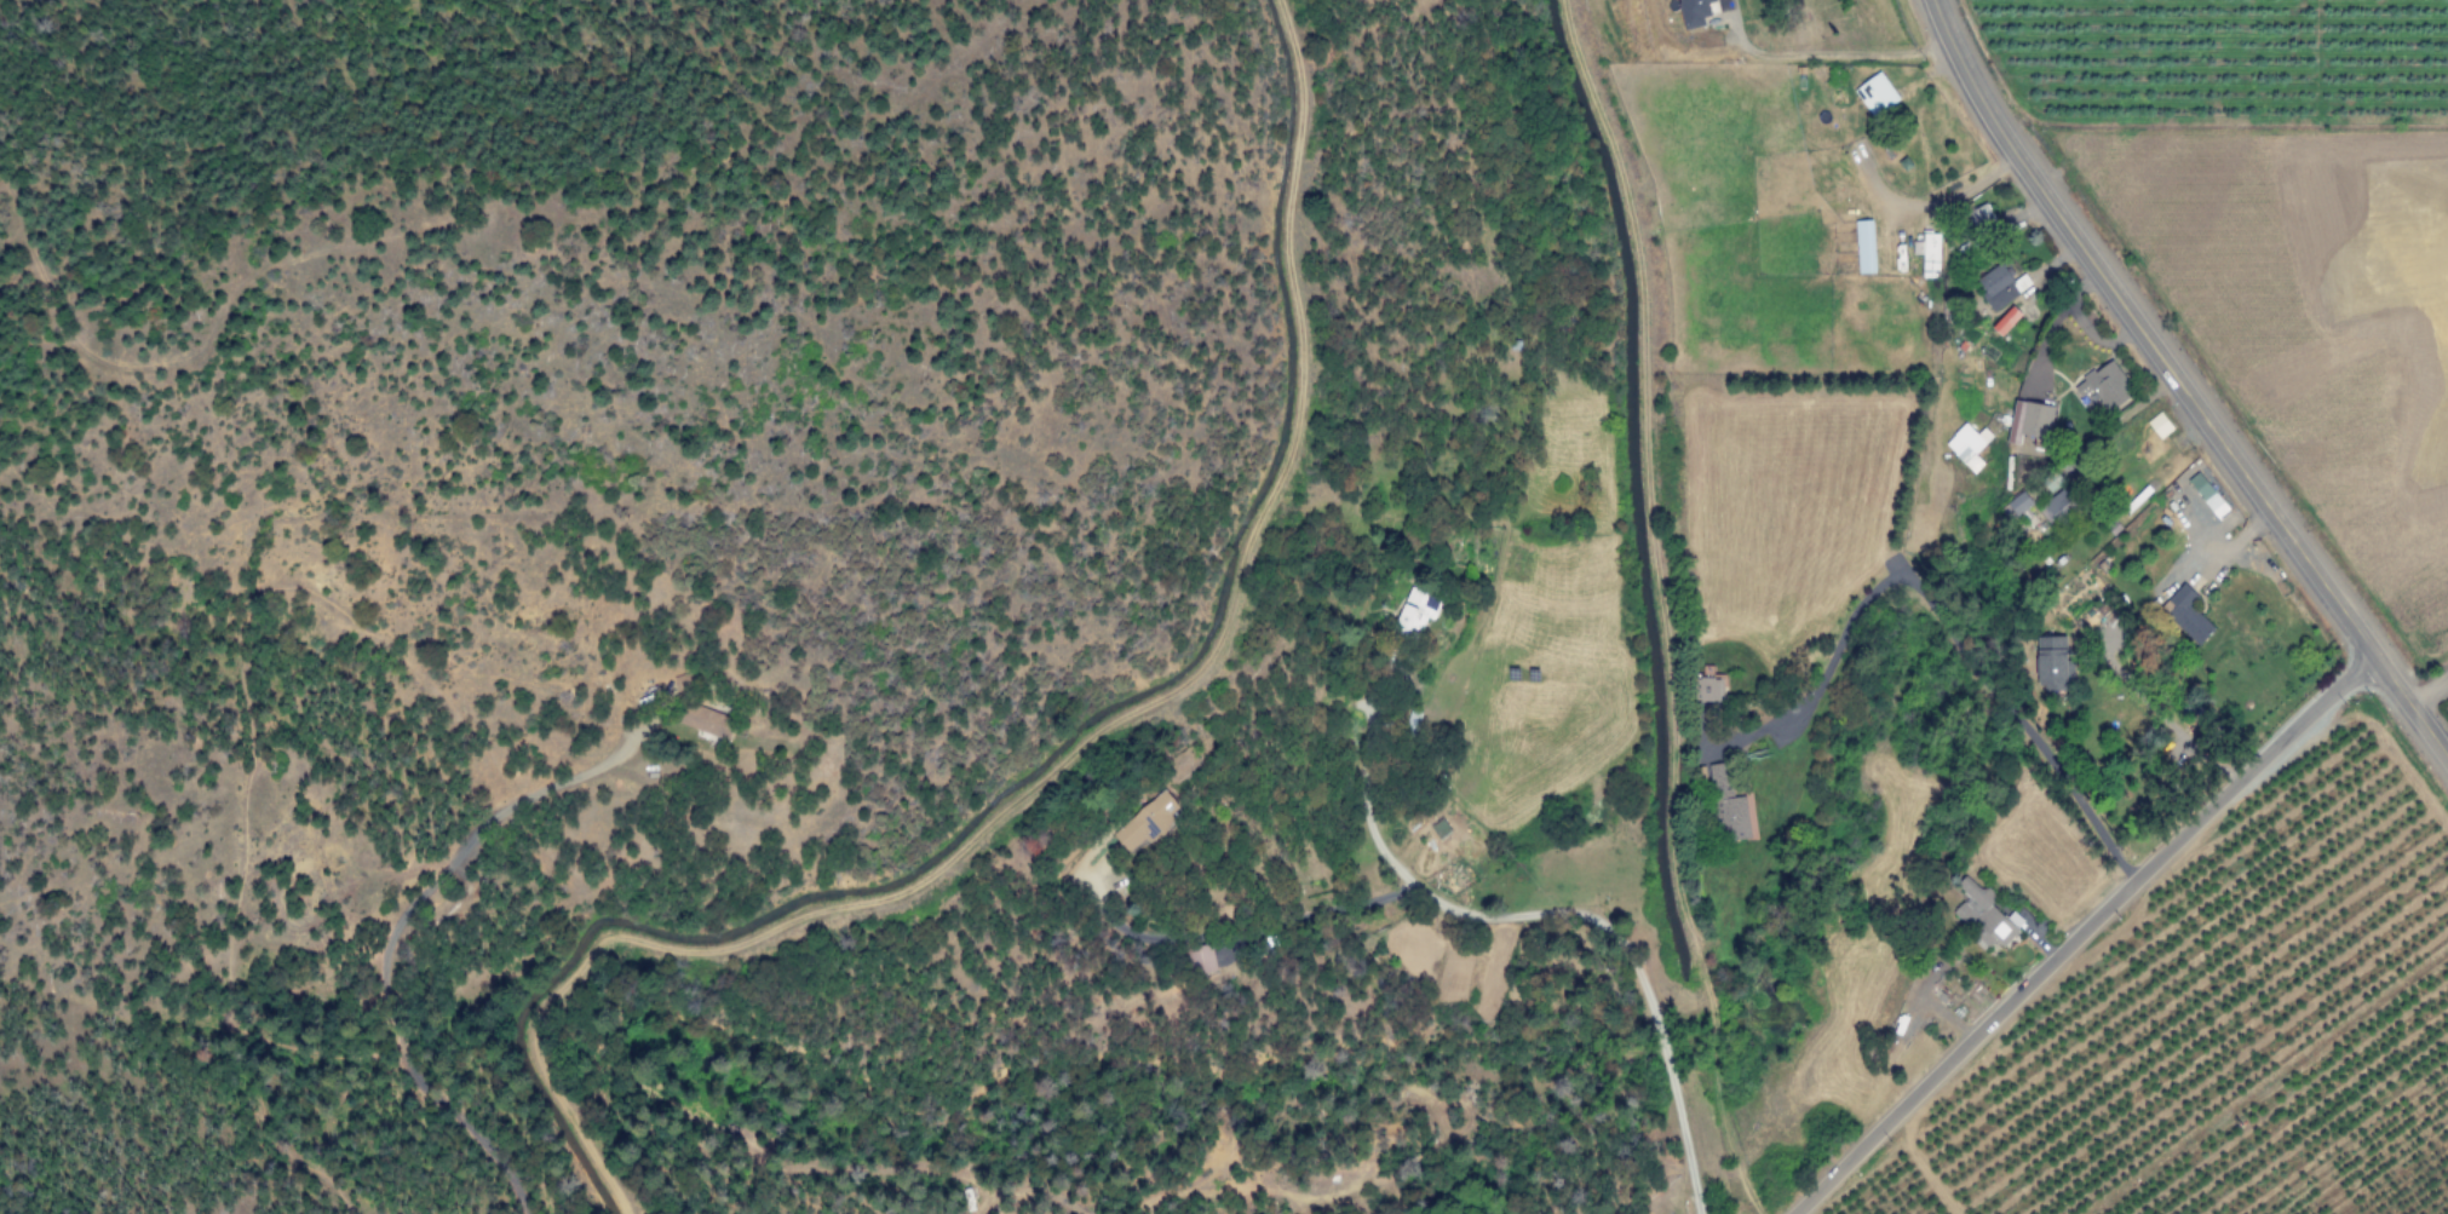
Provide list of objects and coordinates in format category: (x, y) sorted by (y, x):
building: (1695, 12)
building: (1877, 94)
building: (1981, 219)
building: (1864, 247)
building: (1929, 254)
building: (2001, 286)
building: (2006, 321)
road: (2182, 382)
building: (2105, 386)
building: (2032, 425)
building: (2160, 425)
building: (1969, 445)
building: (2021, 504)
building: (2058, 506)
building: (1416, 614)
building: (2188, 615)
building: (2052, 663)
building: (1709, 689)
building: (707, 720)
road: (1063, 755)
building: (1728, 806)
building: (1150, 821)
building: (1443, 829)
road: (1564, 913)
building: (1984, 915)
road: (2080, 934)
building: (1202, 960)

